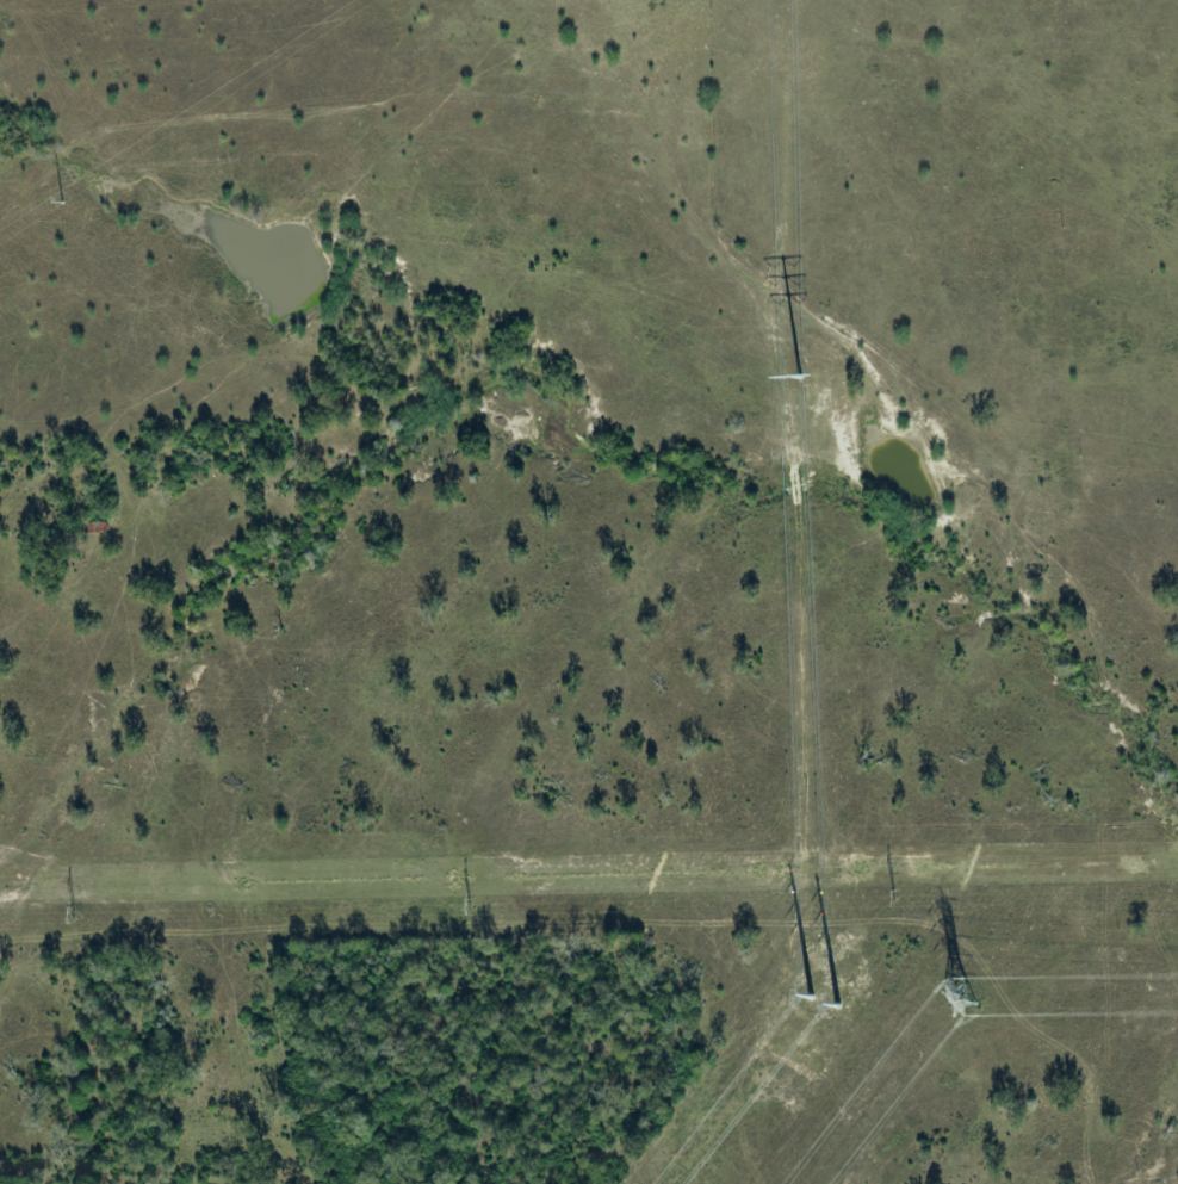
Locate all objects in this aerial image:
power tower: (62, 202)
power tower: (897, 898)
power tower: (472, 906)
power tower: (75, 915)
power tower: (810, 972)
power tower: (957, 997)

